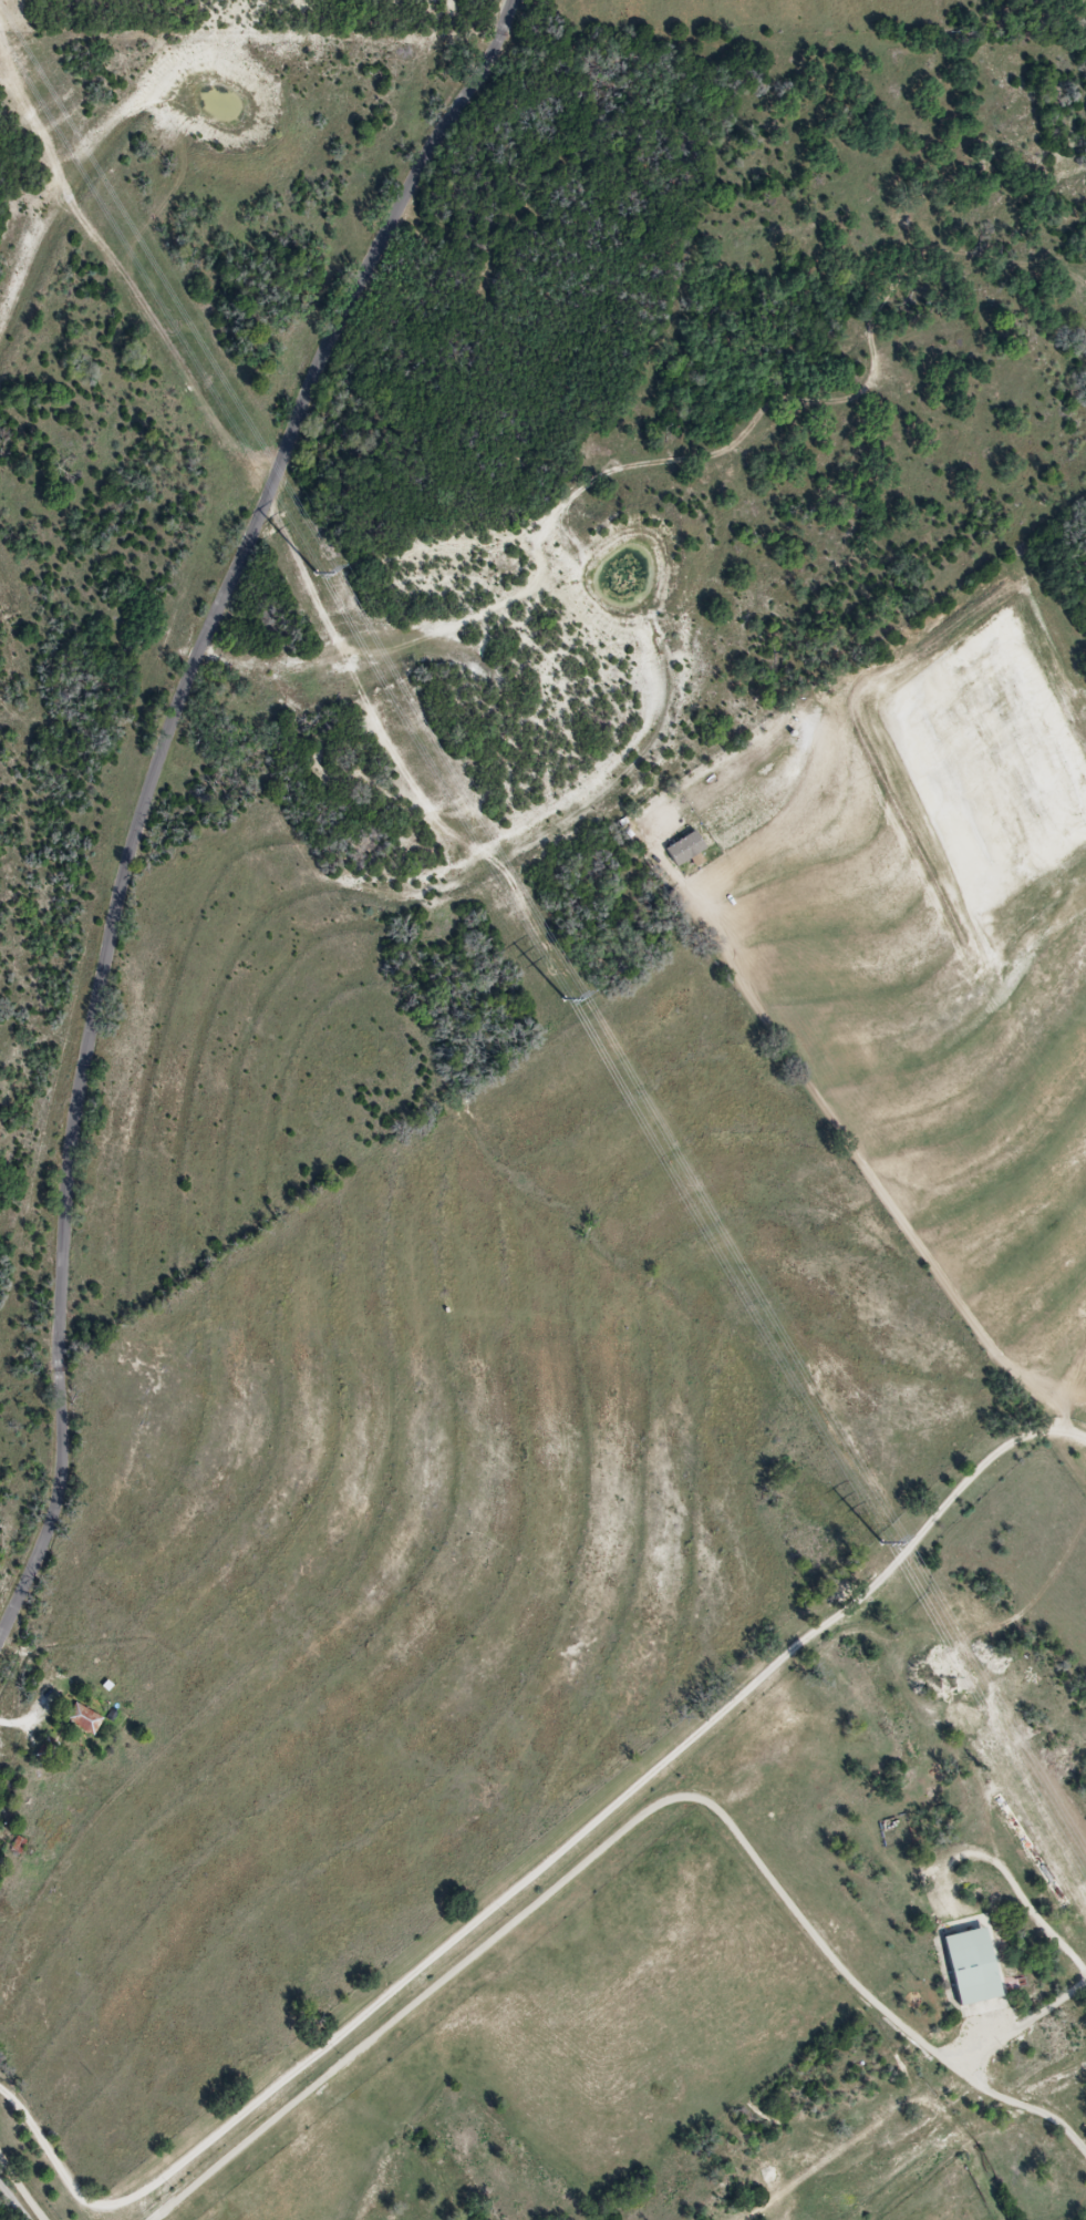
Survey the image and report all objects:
power tower: (318, 575)
road: (153, 792)
power tower: (563, 998)
power tower: (882, 1545)
building: (84, 1720)
building: (46, 1753)
road: (629, 1836)
road: (539, 1879)
building: (974, 1966)
road: (24, 2185)
road: (15, 2197)

